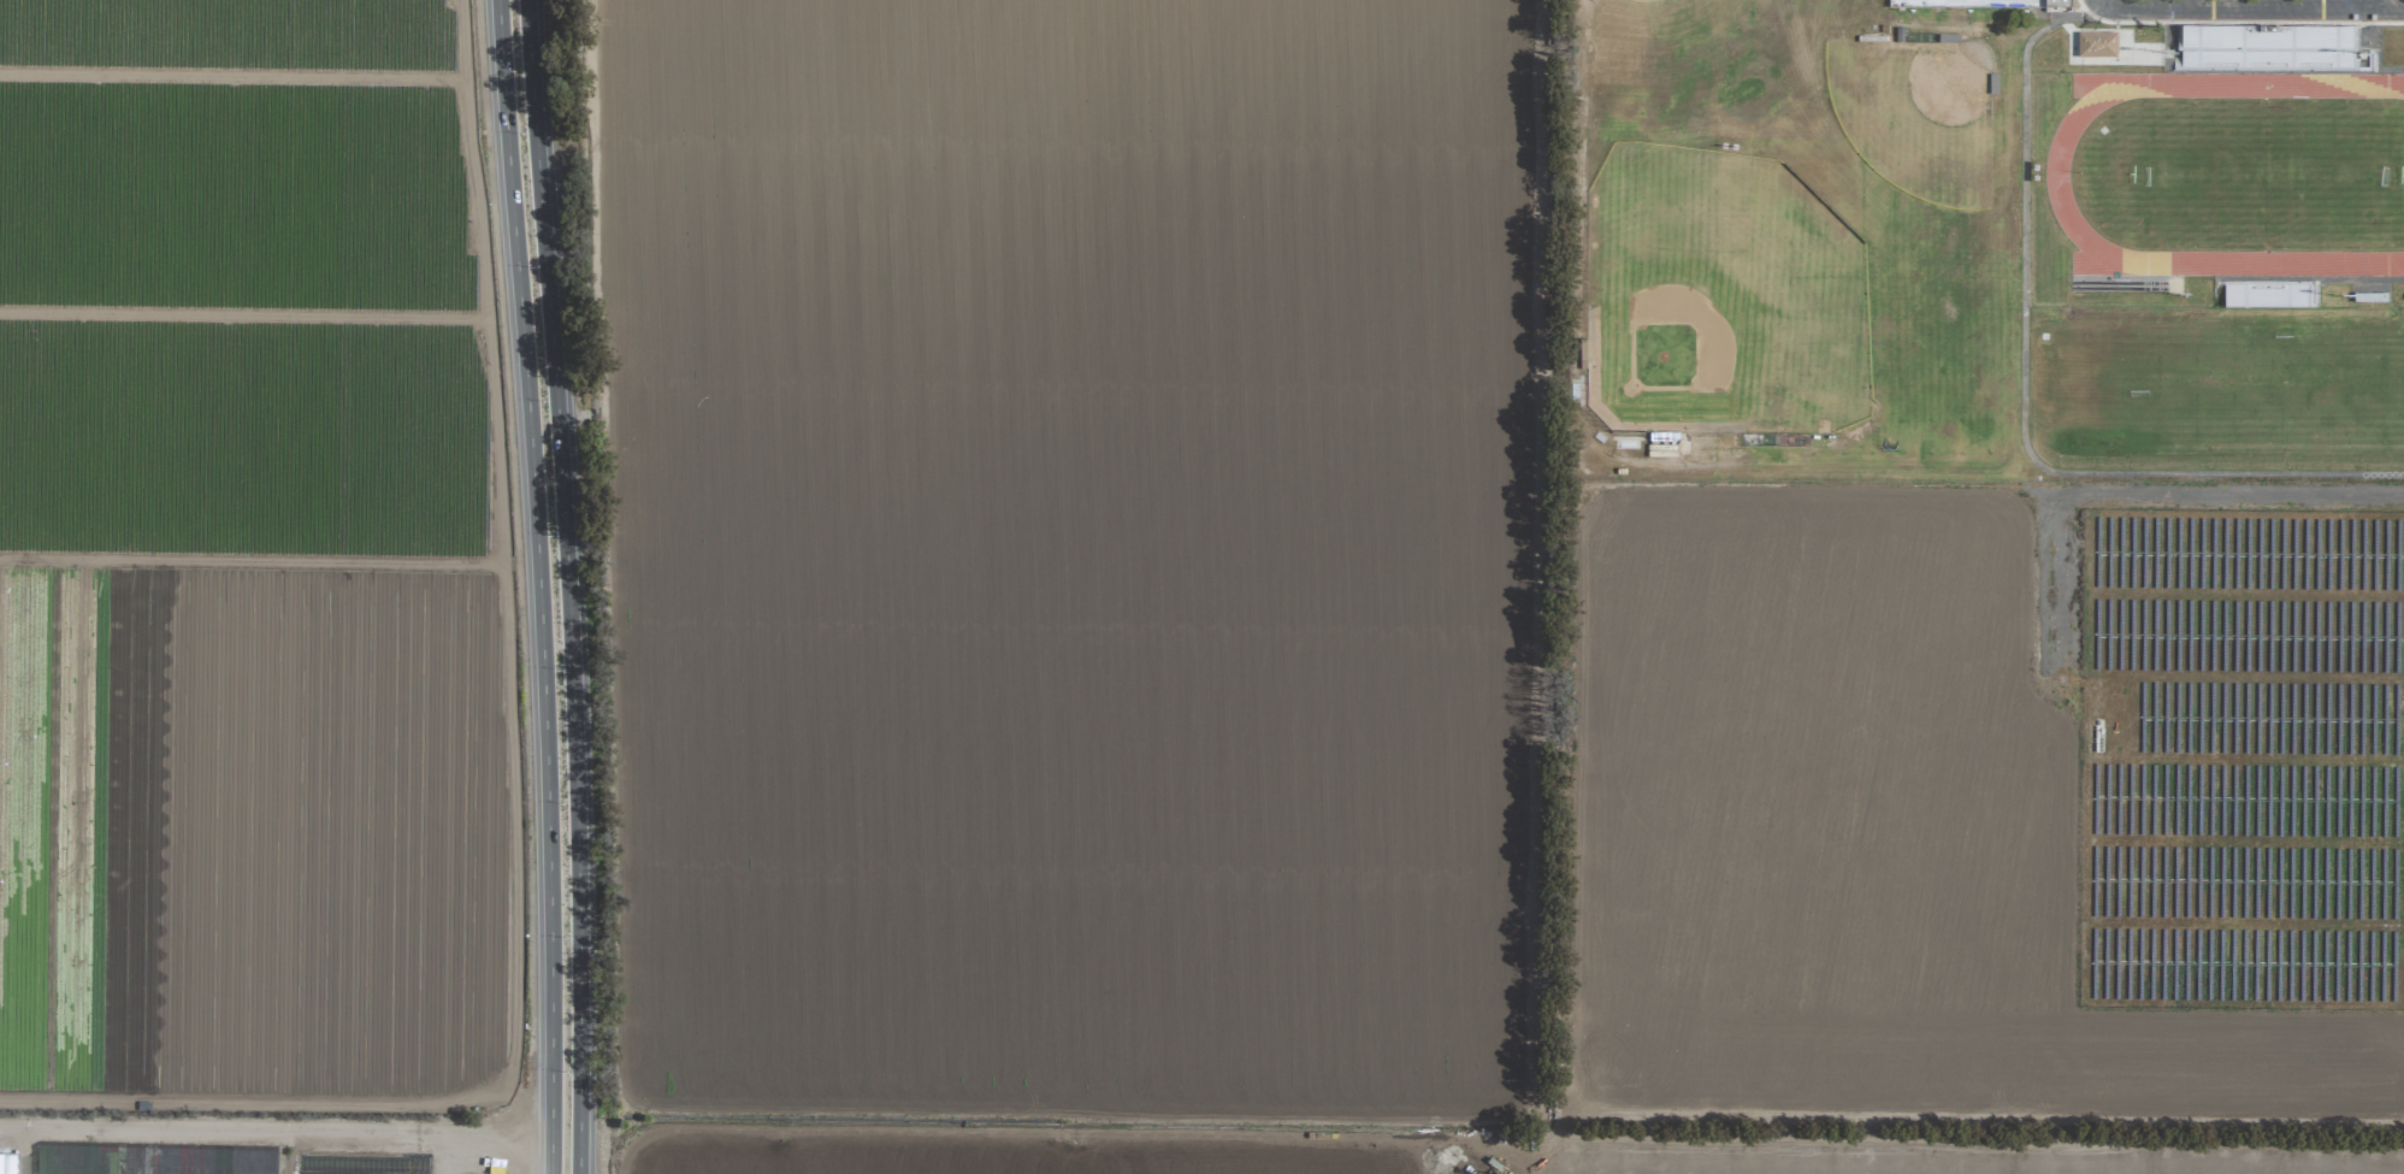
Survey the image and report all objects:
road: (2371, 4)
building: (2057, 6)
road: (2244, 8)
building: (2097, 45)
building: (2269, 48)
park: (1916, 114)
track: (2055, 170)
park: (2267, 175)
building: (2370, 297)
park: (1720, 299)
park: (1943, 325)
park: (2356, 382)
park: (2238, 385)
road: (2022, 402)
road: (538, 586)
road: (567, 586)
crop: (820, 601)
solar farm: (2241, 759)
road: (276, 1135)
road: (30, 1154)
building: (6, 1164)

